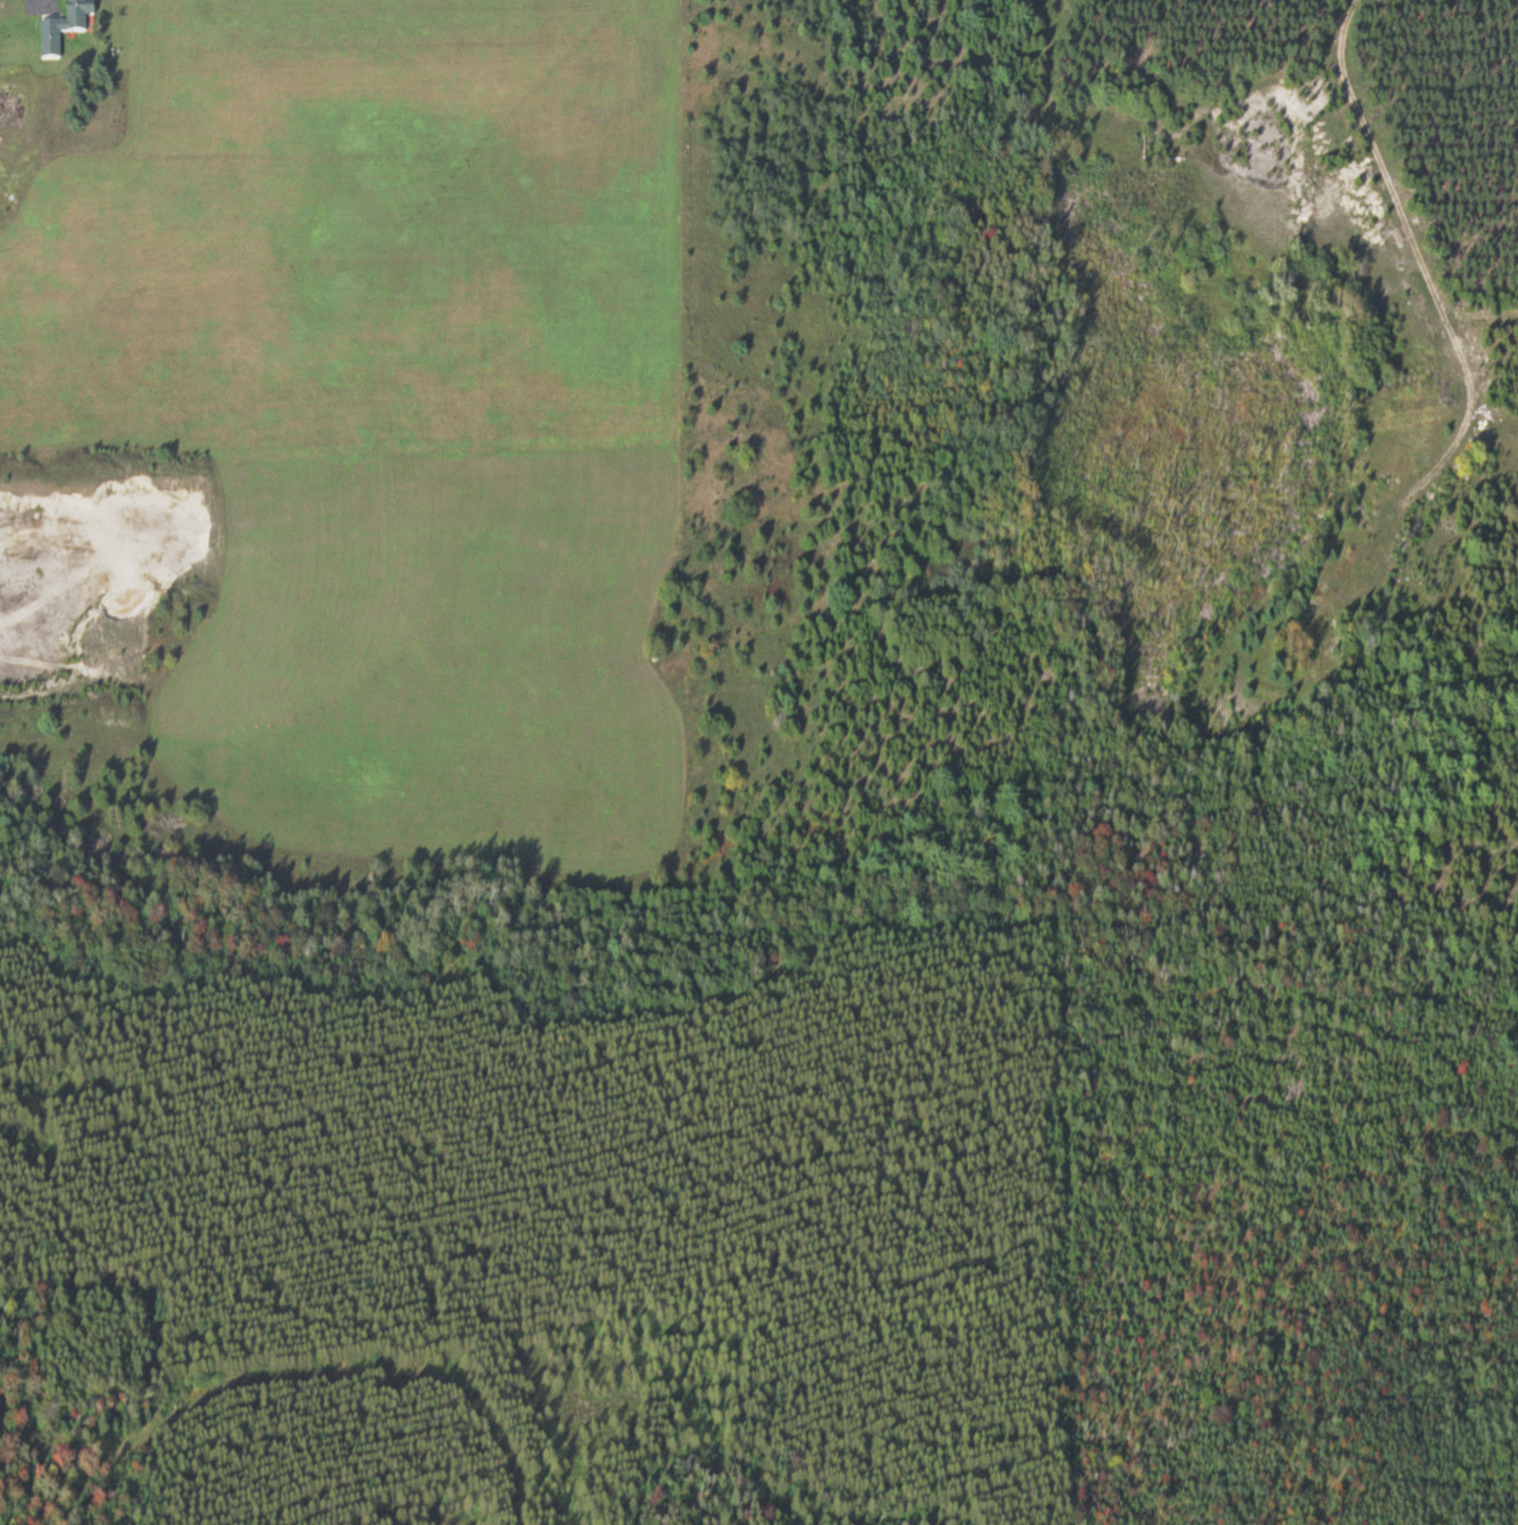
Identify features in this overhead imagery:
building: (66, 28)
road: (1431, 253)
road: (1312, 569)

